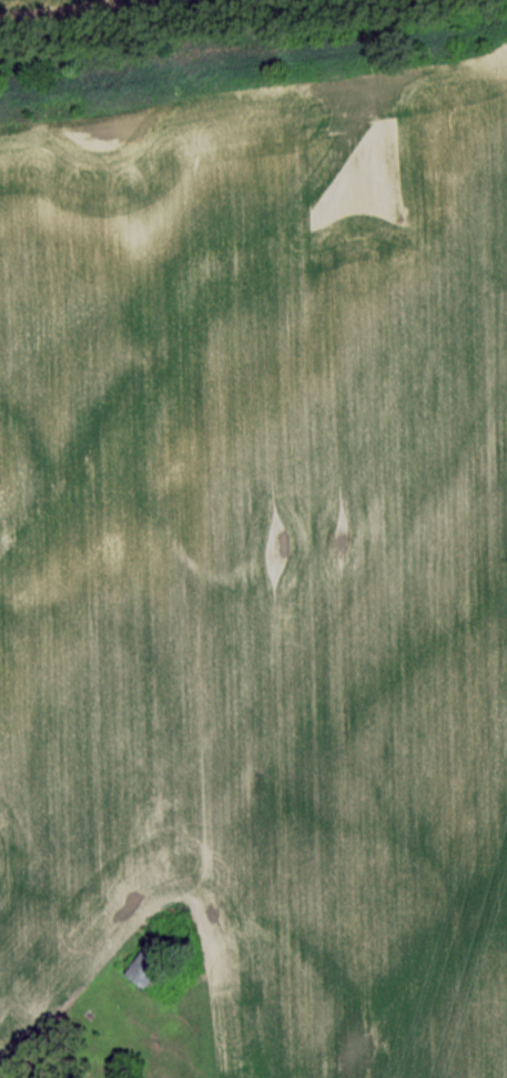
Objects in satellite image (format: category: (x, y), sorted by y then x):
crop: (261, 556)

